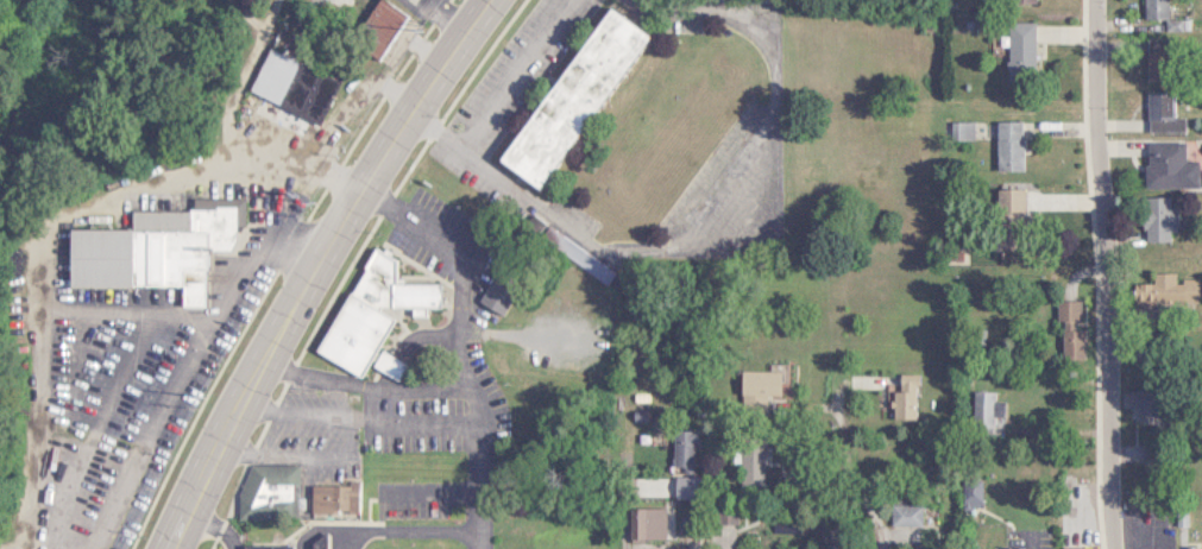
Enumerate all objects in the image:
building: (1019, 0)
building: (1152, 8)
road: (436, 17)
building: (373, 27)
building: (1018, 51)
building: (1154, 64)
road: (243, 68)
road: (517, 75)
building: (268, 76)
building: (565, 96)
road: (347, 99)
building: (1159, 113)
building: (958, 130)
building: (1006, 145)
road: (295, 163)
building: (1165, 165)
road: (691, 208)
building: (1157, 217)
building: (1007, 219)
road: (270, 242)
building: (151, 248)
road: (466, 258)
building: (578, 260)
road: (311, 266)
road: (1099, 273)
road: (231, 277)
building: (1153, 289)
building: (493, 292)
building: (367, 315)
road: (87, 317)
building: (1068, 329)
road: (378, 376)
building: (755, 385)
building: (901, 397)
road: (97, 402)
road: (359, 405)
building: (1143, 405)
building: (984, 412)
road: (276, 441)
road: (132, 442)
road: (839, 450)
building: (679, 452)
building: (749, 462)
road: (480, 480)
building: (265, 484)
road: (428, 491)
building: (968, 493)
building: (329, 499)
building: (902, 511)
building: (643, 524)
building: (308, 539)
road: (726, 543)
building: (262, 547)
building: (1009, 548)

